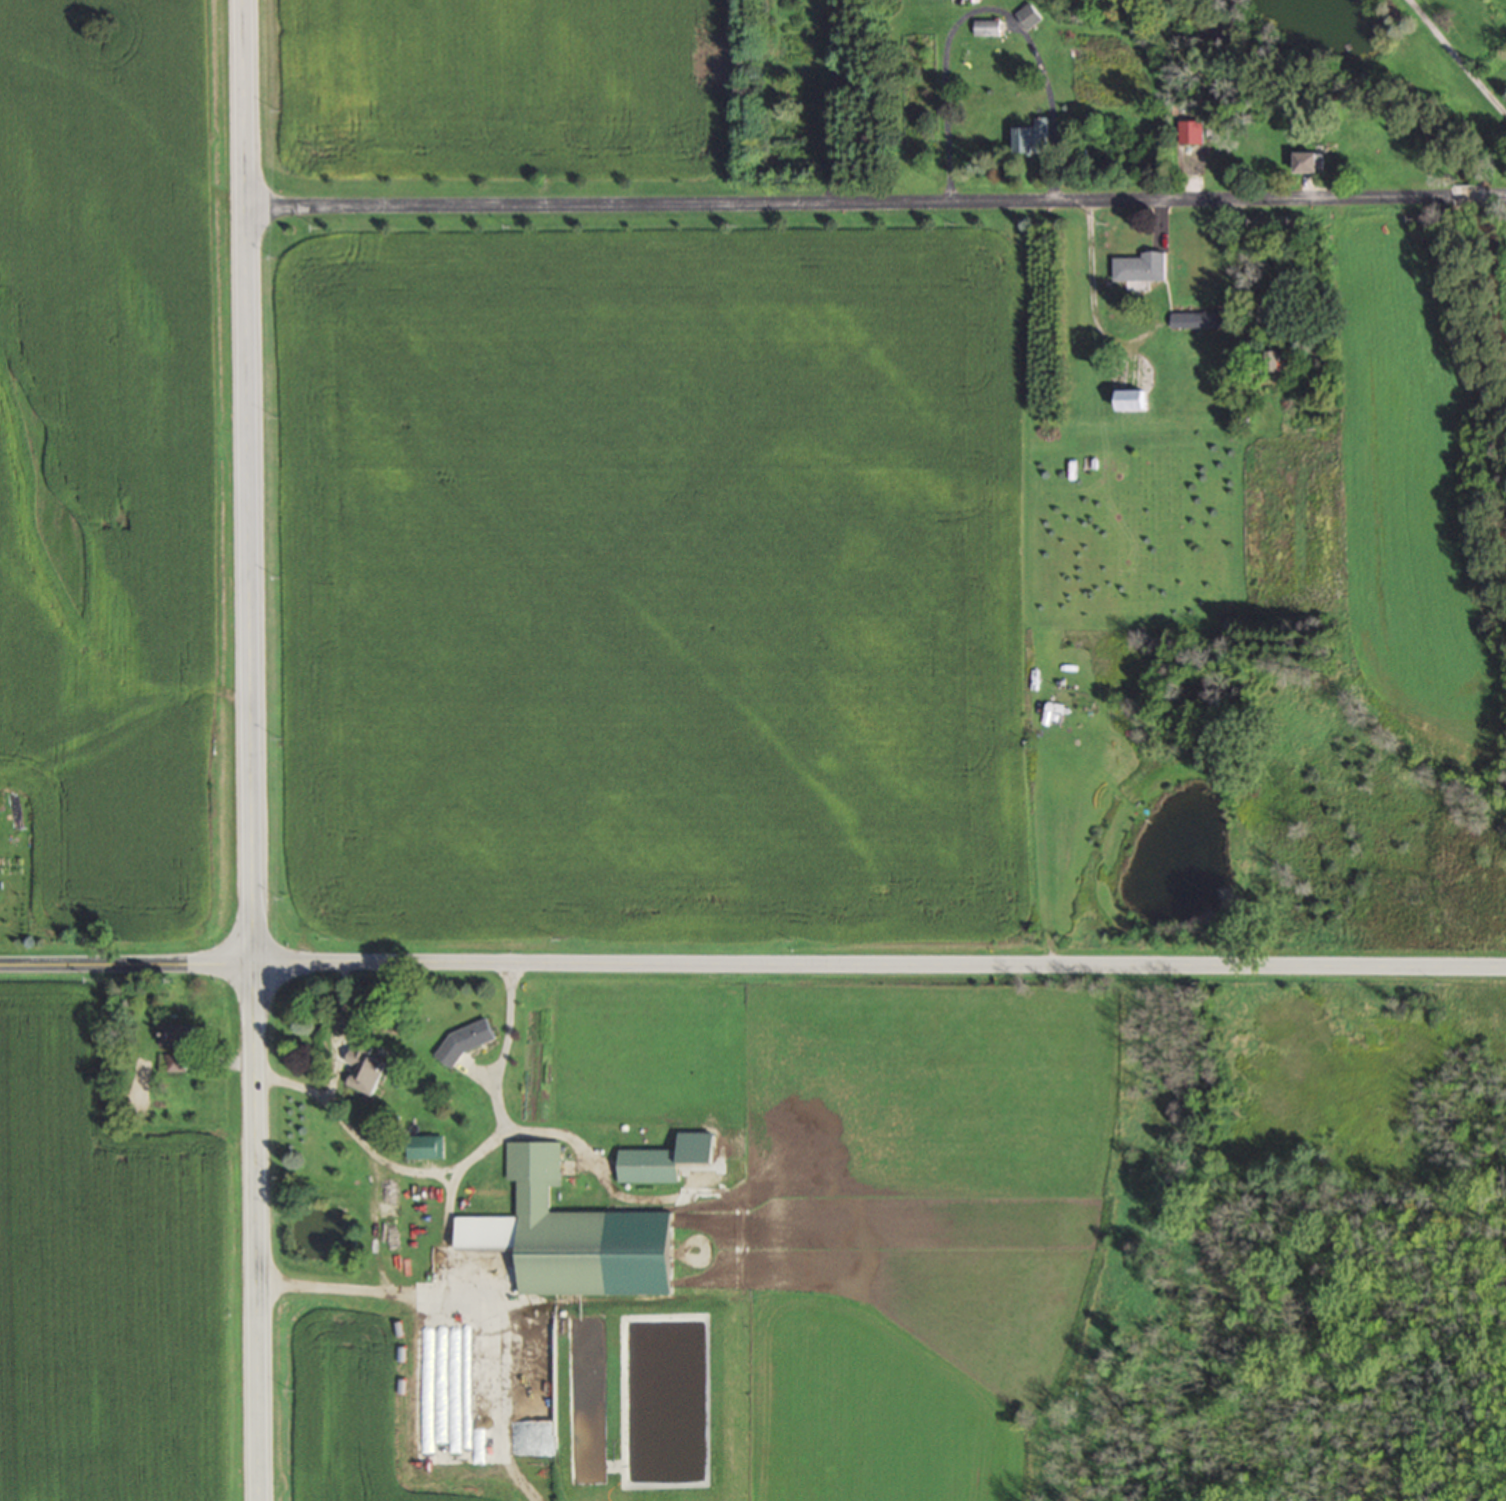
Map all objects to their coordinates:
building: (1030, 14)
building: (989, 26)
building: (1034, 136)
building: (1309, 160)
road: (1467, 194)
road: (1494, 194)
road: (848, 199)
building: (1141, 265)
building: (1272, 358)
building: (1133, 396)
road: (250, 750)
road: (752, 963)
building: (180, 1032)
building: (466, 1038)
building: (175, 1060)
building: (364, 1065)
building: (425, 1145)
building: (649, 1164)
road: (446, 1165)
building: (572, 1234)
road: (366, 1284)
building: (471, 1323)
building: (464, 1447)

